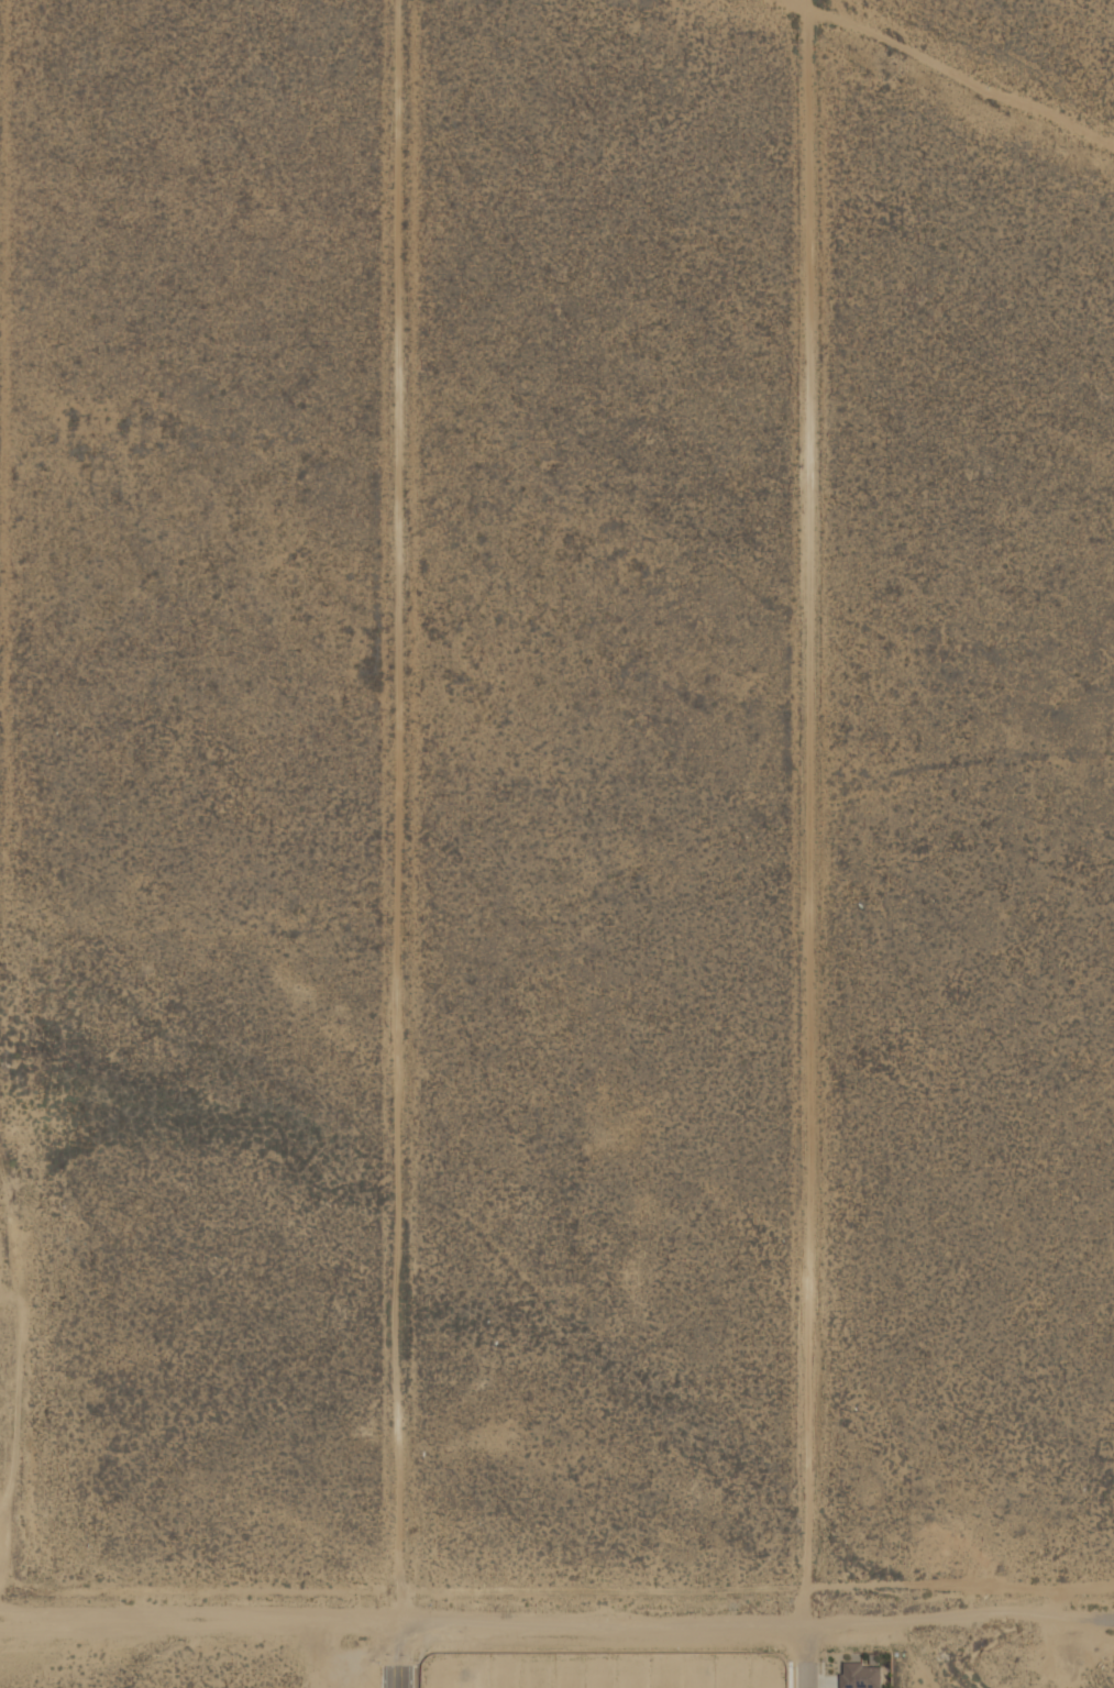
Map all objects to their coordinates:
road: (955, 74)
road: (0, 358)
road: (402, 812)
road: (807, 815)
road: (202, 1623)
road: (759, 1624)
road: (404, 1656)
road: (810, 1656)
building: (860, 1676)
building: (435, 1679)
building: (533, 1685)
building: (764, 1685)
building: (466, 1686)

